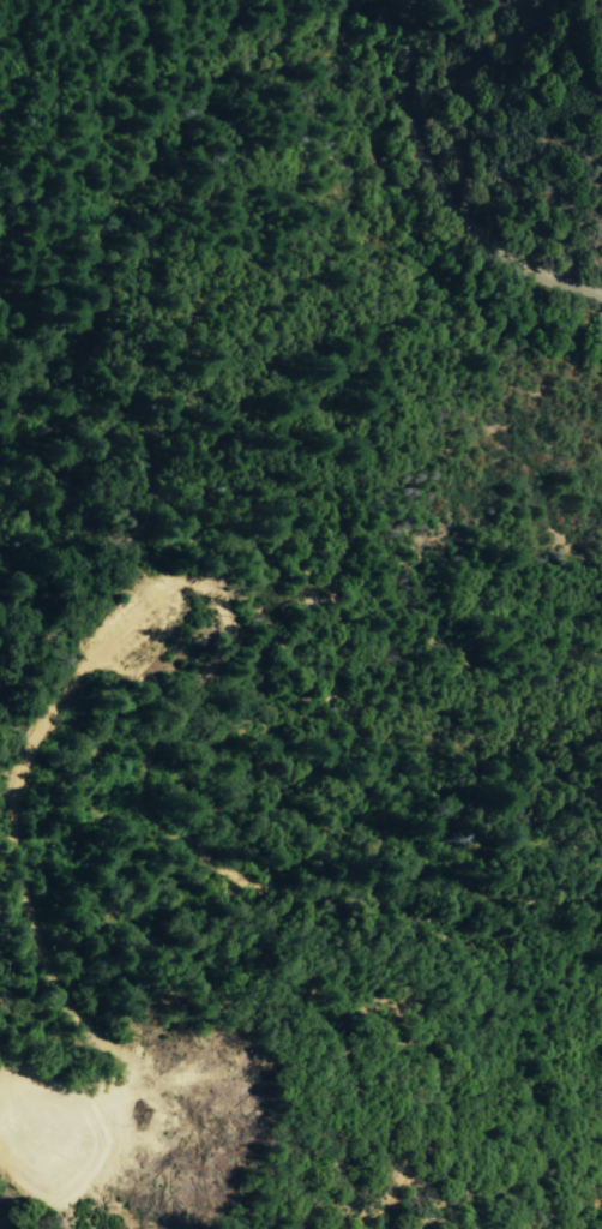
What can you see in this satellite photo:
road: (441, 191)

